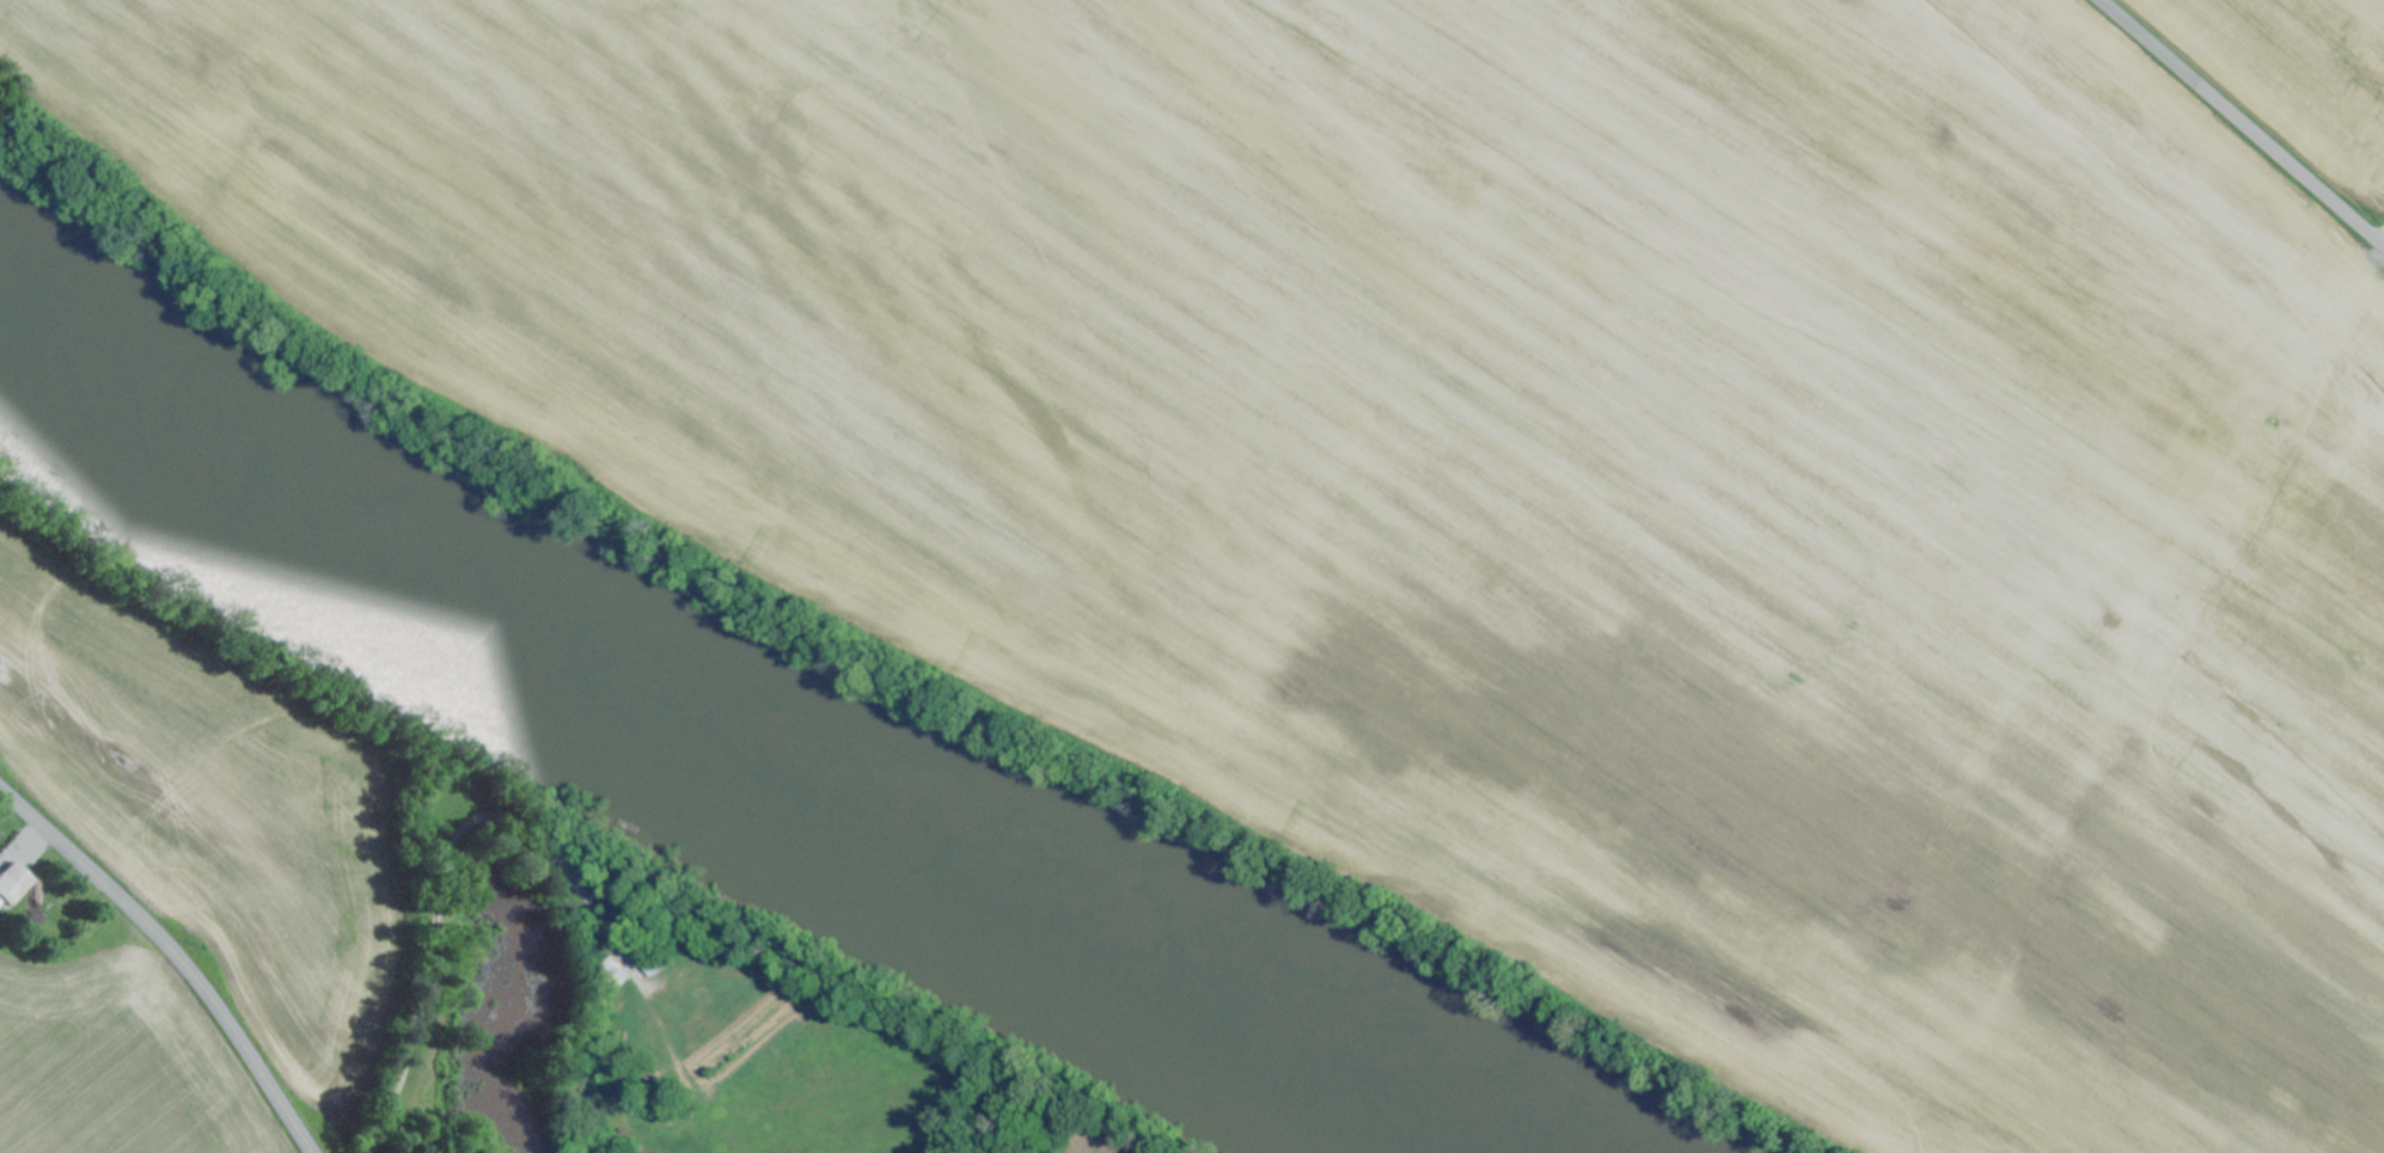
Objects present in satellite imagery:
road: (2242, 123)
river: (752, 748)
building: (17, 884)
road: (175, 953)

